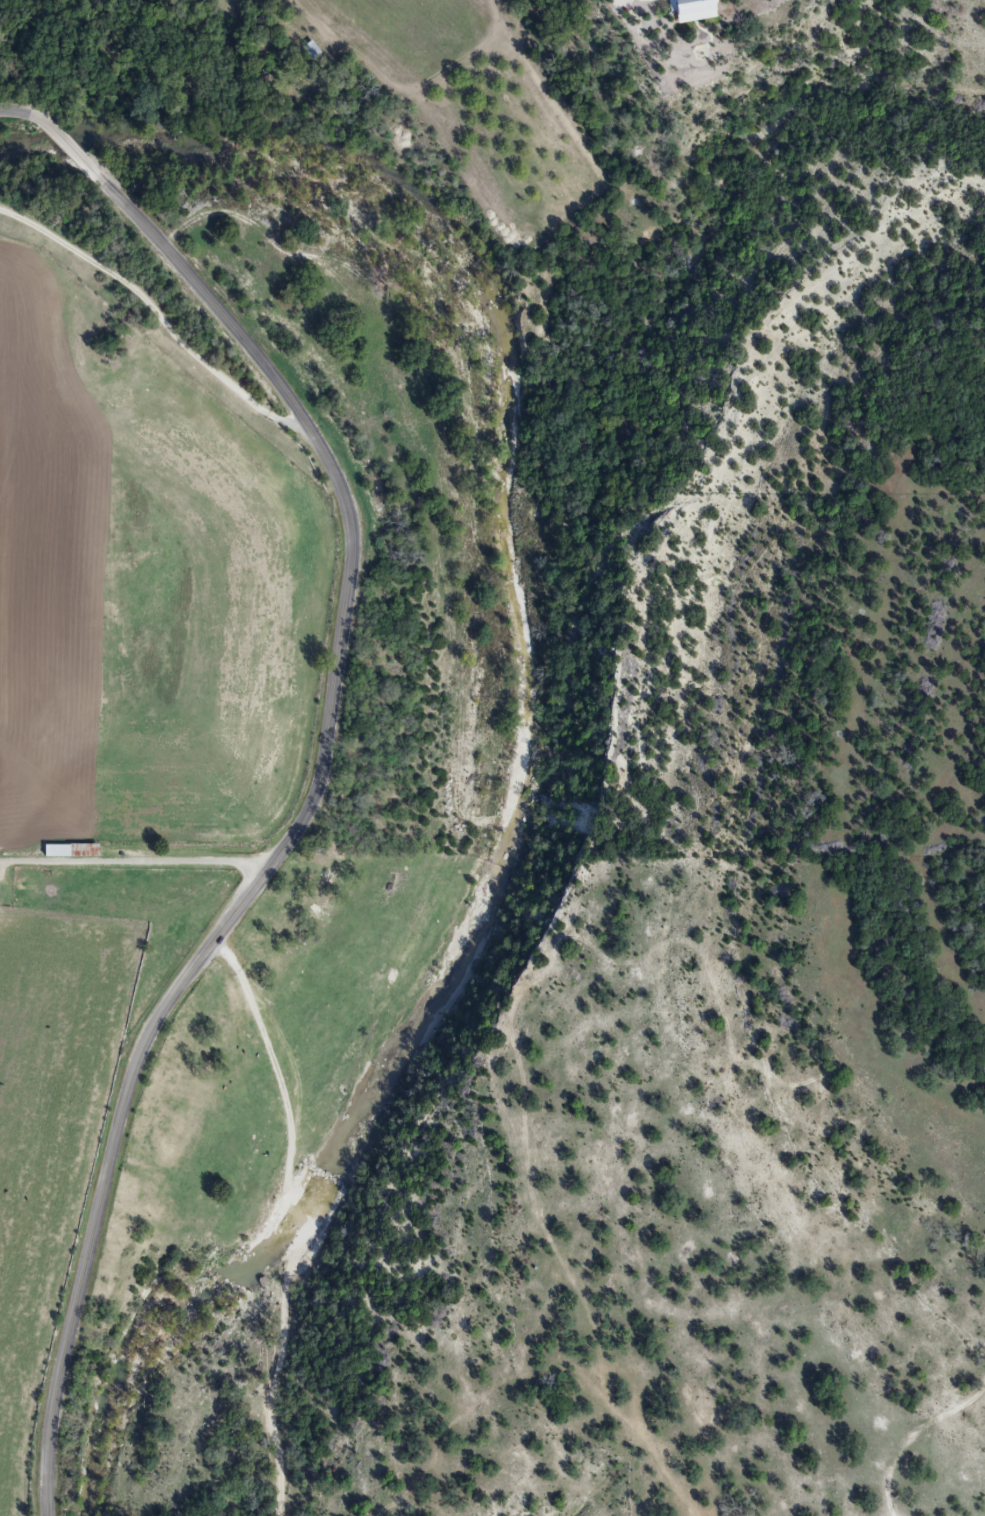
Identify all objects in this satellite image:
building: (685, 10)
road: (158, 316)
road: (663, 625)
road: (316, 771)
building: (64, 848)
road: (135, 858)
road: (325, 1213)
road: (941, 1457)

